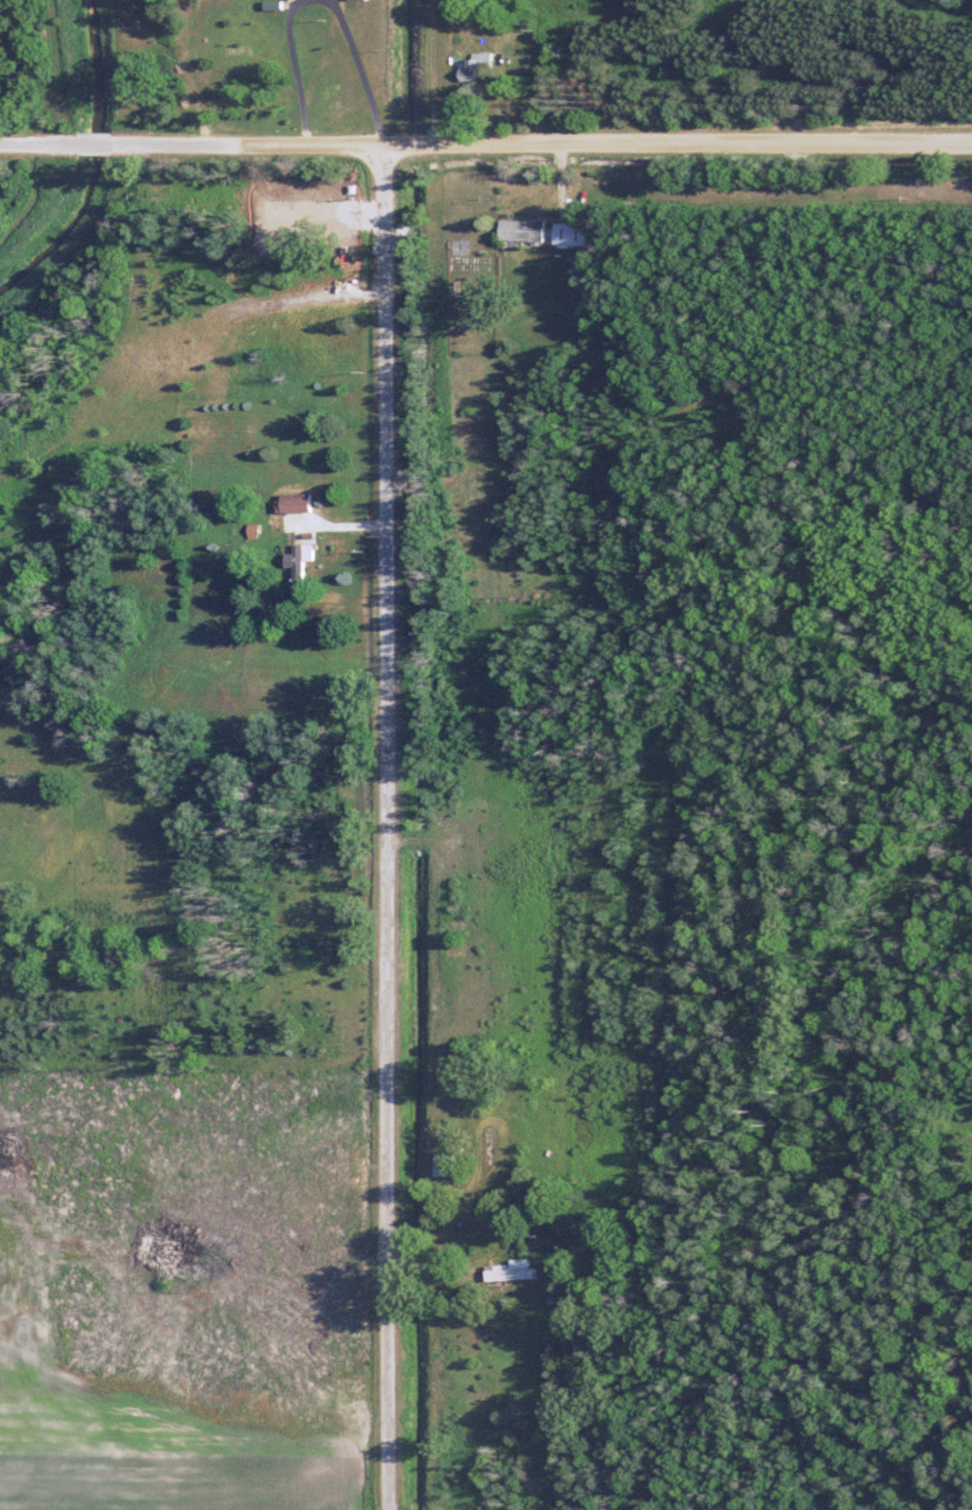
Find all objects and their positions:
building: (483, 65)
road: (367, 70)
road: (302, 71)
road: (39, 142)
road: (96, 143)
road: (542, 146)
building: (528, 229)
building: (576, 234)
building: (540, 269)
building: (302, 503)
building: (303, 566)
road: (385, 827)
building: (451, 1164)
building: (521, 1271)

